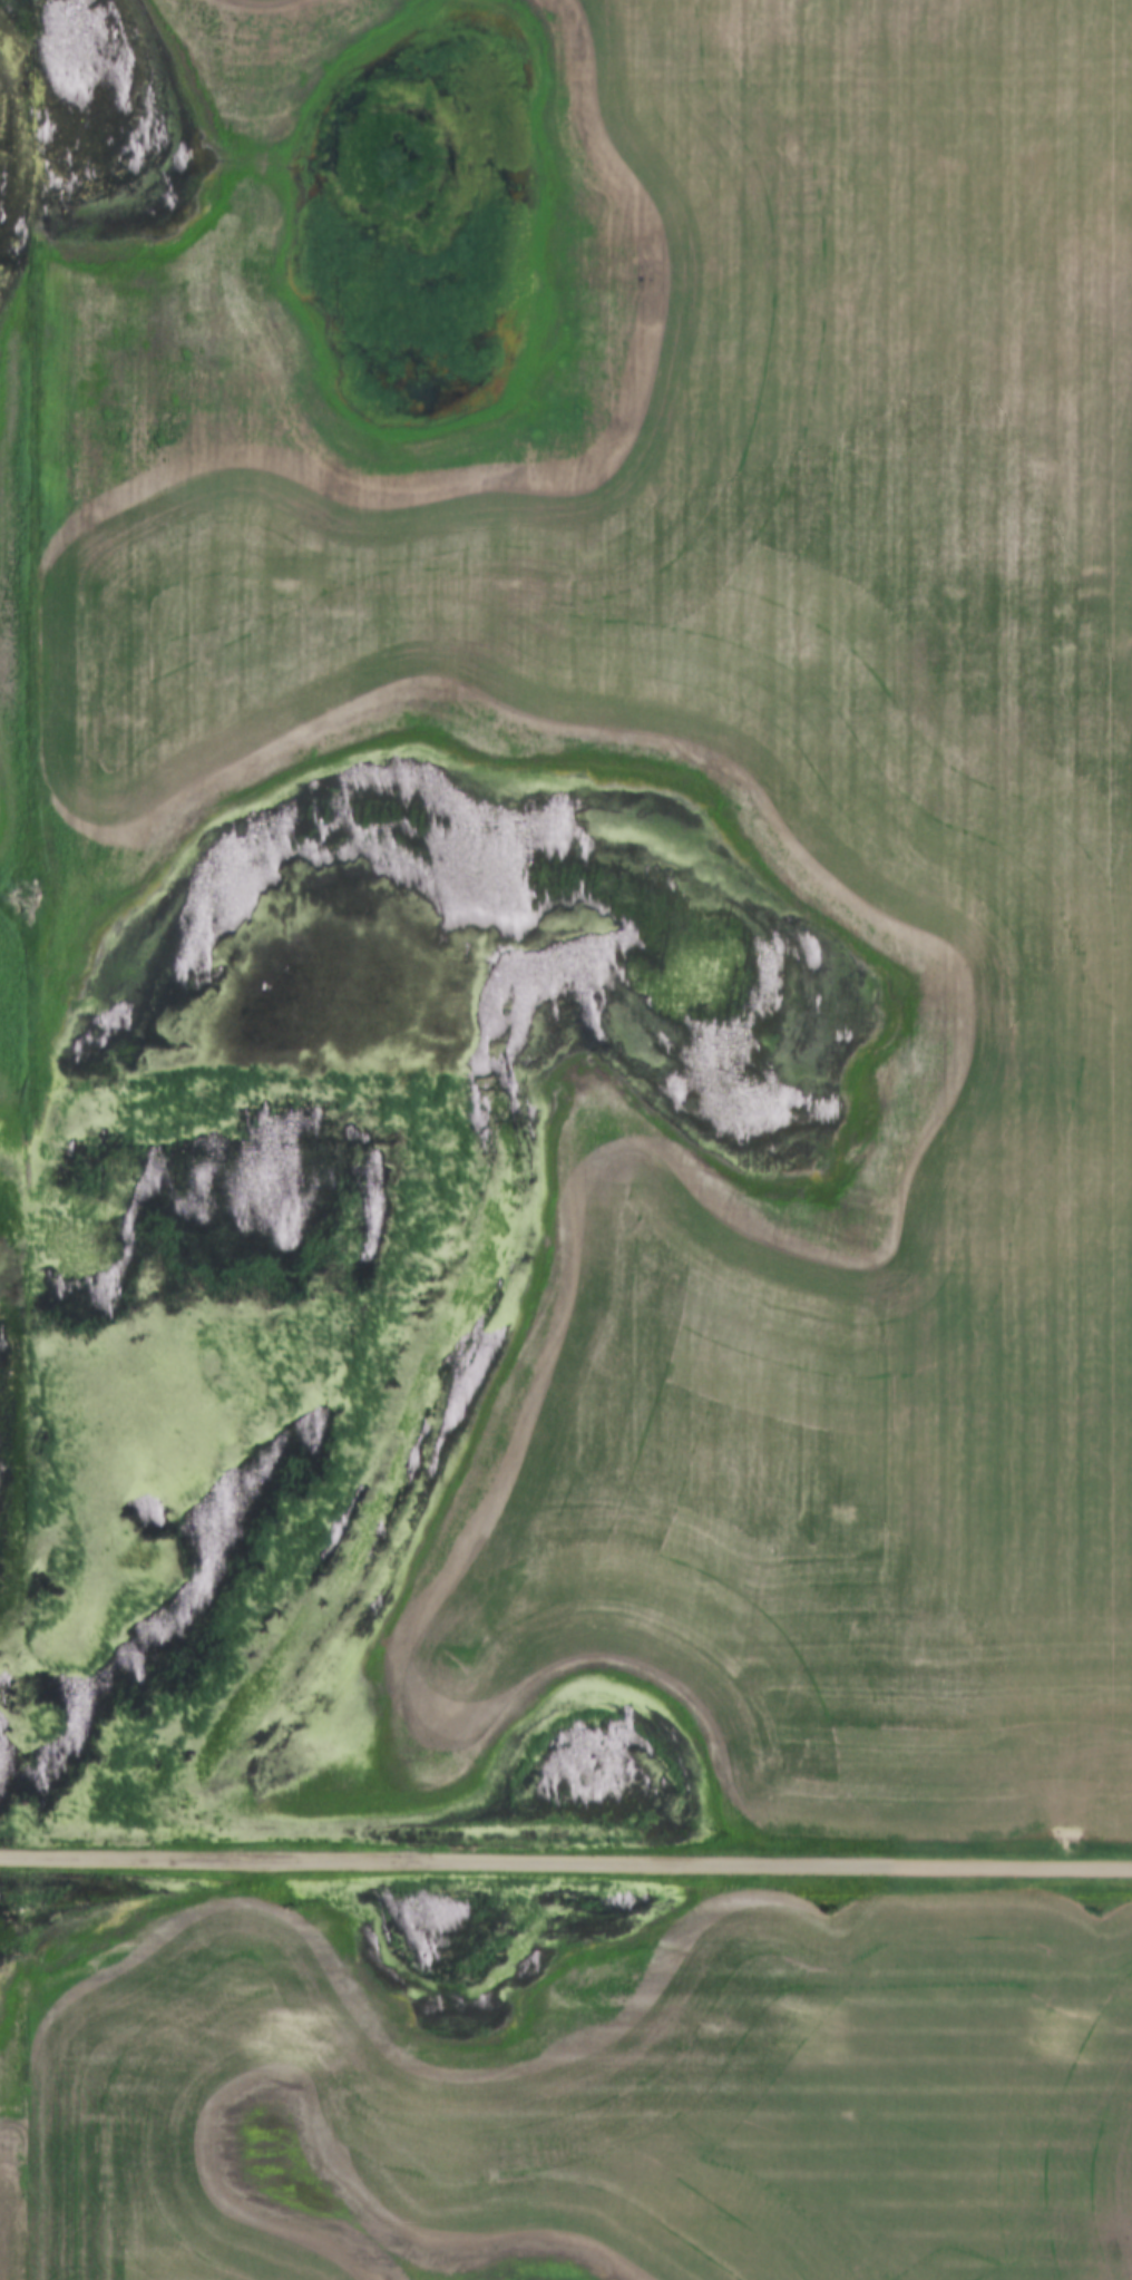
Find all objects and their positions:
road: (566, 1863)

